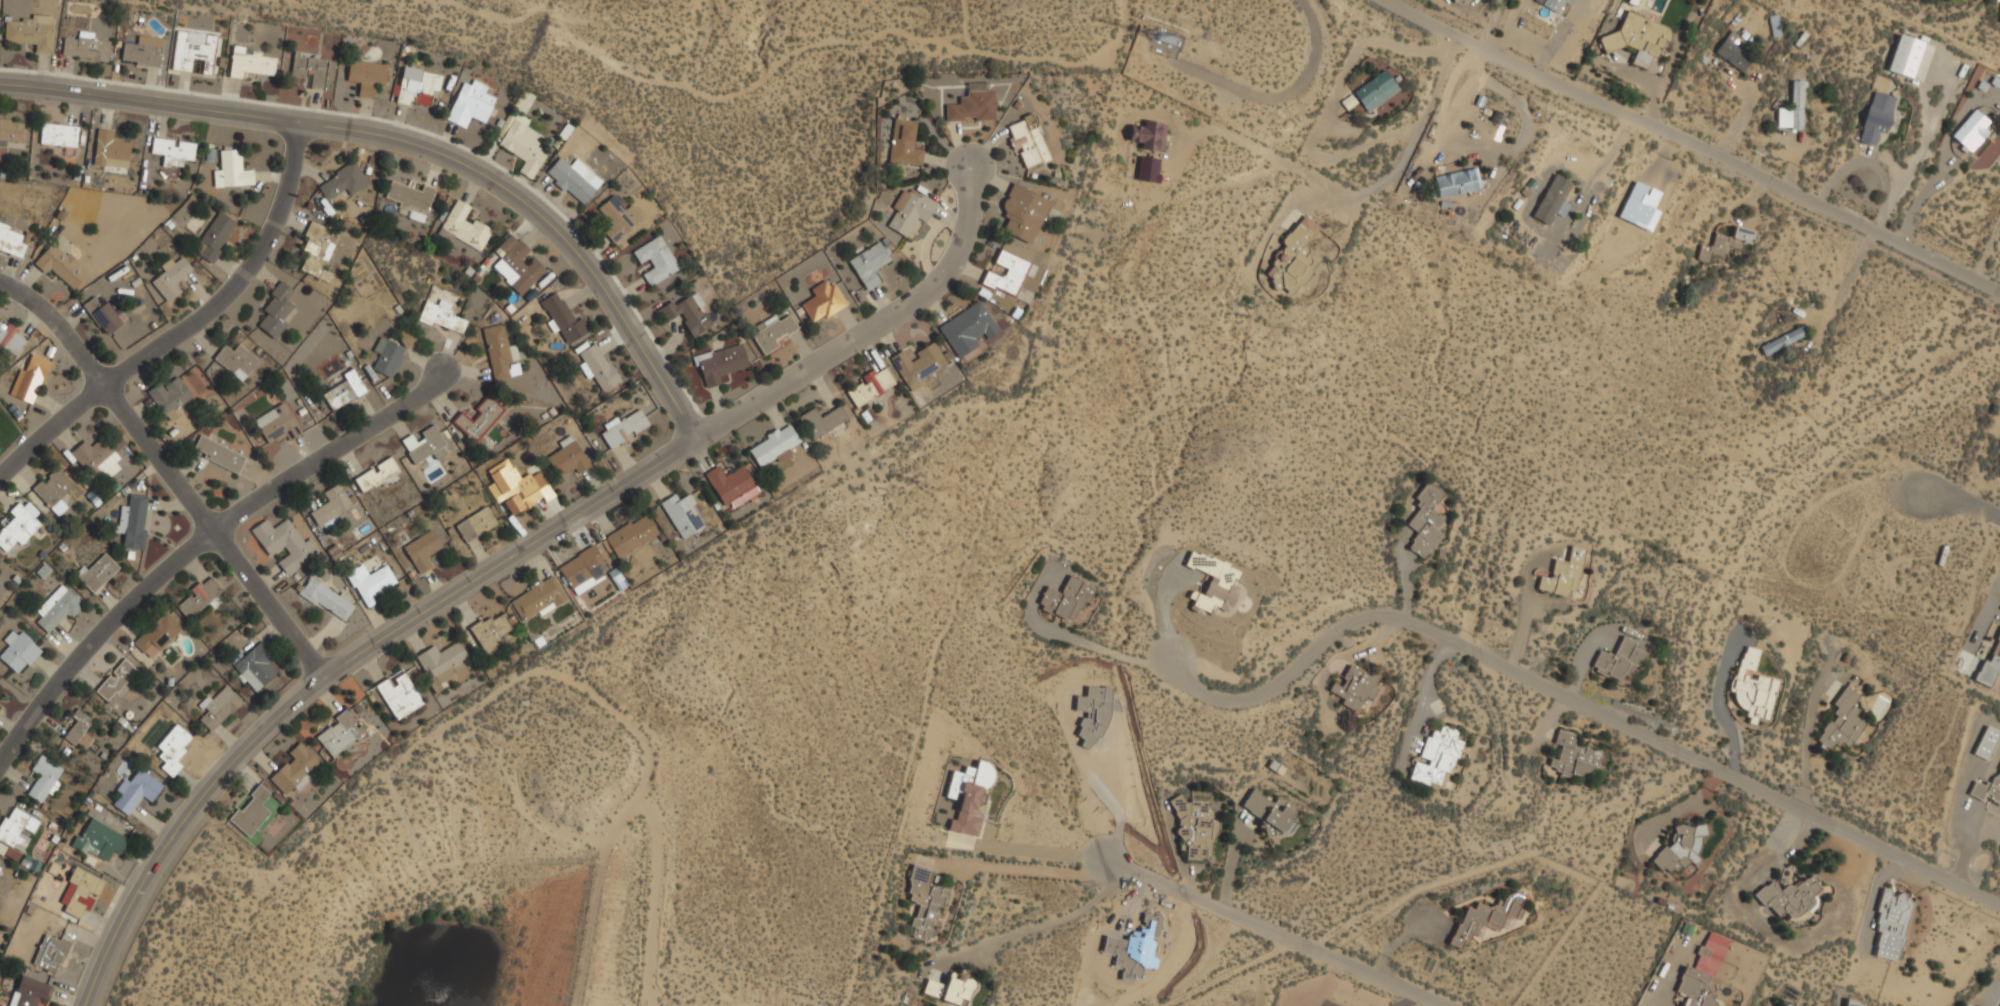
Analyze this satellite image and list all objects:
building: (1454, 0)
building: (1999, 0)
building: (1558, 6)
building: (1774, 26)
building: (31, 32)
building: (1638, 39)
building: (85, 47)
building: (143, 51)
building: (193, 51)
building: (1734, 52)
building: (1905, 56)
building: (250, 63)
building: (310, 70)
building: (366, 76)
building: (1988, 86)
building: (417, 87)
building: (1375, 91)
road: (1282, 94)
building: (1348, 102)
building: (470, 104)
road: (1325, 104)
building: (972, 107)
building: (1793, 108)
building: (1876, 119)
road: (1932, 124)
building: (11, 131)
building: (1971, 131)
building: (1149, 135)
building: (59, 136)
building: (1027, 141)
road: (1694, 142)
road: (417, 144)
building: (904, 144)
building: (523, 145)
building: (110, 150)
building: (173, 152)
road: (1863, 162)
building: (1148, 169)
building: (232, 171)
building: (574, 179)
building: (344, 182)
building: (1457, 183)
road: (1358, 193)
building: (412, 197)
building: (1553, 200)
building: (909, 211)
building: (1023, 213)
building: (618, 218)
building: (465, 227)
building: (215, 237)
building: (12, 240)
building: (1725, 244)
building: (316, 252)
building: (1294, 258)
building: (656, 260)
building: (60, 264)
building: (869, 264)
building: (516, 265)
building: (1007, 274)
building: (171, 278)
building: (822, 301)
building: (277, 311)
building: (687, 313)
building: (102, 314)
building: (442, 316)
building: (564, 320)
building: (965, 329)
road: (189, 331)
road: (878, 331)
building: (772, 332)
building: (1783, 340)
building: (10, 341)
building: (391, 352)
building: (498, 352)
building: (236, 361)
building: (720, 364)
building: (918, 364)
building: (597, 367)
building: (30, 378)
building: (870, 386)
building: (344, 391)
building: (169, 397)
building: (478, 418)
building: (822, 421)
building: (277, 425)
park: (8, 428)
building: (624, 428)
building: (425, 445)
building: (774, 446)
road: (329, 452)
building: (218, 454)
building: (96, 458)
building: (568, 458)
road: (170, 471)
building: (377, 475)
building: (731, 486)
building: (517, 488)
building: (53, 490)
road: (1968, 498)
building: (331, 505)
building: (682, 514)
building: (1426, 521)
building: (133, 522)
building: (475, 525)
building: (17, 528)
building: (631, 536)
building: (285, 544)
building: (422, 551)
building: (582, 570)
building: (98, 573)
building: (1563, 575)
building: (371, 584)
building: (1212, 584)
building: (198, 598)
building: (326, 599)
building: (539, 599)
building: (1066, 599)
building: (57, 608)
building: (491, 630)
building: (158, 634)
road: (98, 638)
road: (1099, 648)
building: (18, 651)
building: (440, 658)
building: (1620, 660)
building: (1992, 660)
building: (255, 667)
road: (338, 669)
building: (115, 680)
building: (1354, 687)
building: (1753, 687)
road: (1423, 690)
building: (399, 695)
road: (1579, 700)
building: (218, 708)
building: (1842, 724)
building: (80, 731)
building: (340, 734)
building: (1986, 743)
building: (172, 748)
building: (1437, 757)
building: (1573, 757)
building: (296, 769)
building: (44, 779)
building: (1988, 790)
building: (136, 792)
building: (969, 795)
building: (1268, 811)
building: (251, 812)
building: (1195, 829)
building: (1269, 830)
building: (13, 834)
building: (99, 840)
building: (1679, 848)
building: (82, 891)
building: (1791, 897)
building: (924, 901)
building: (1487, 917)
building: (1891, 924)
road: (1040, 927)
road: (1273, 933)
building: (51, 954)
building: (1703, 972)
building: (950, 990)
building: (29, 993)
building: (1855, 1004)

